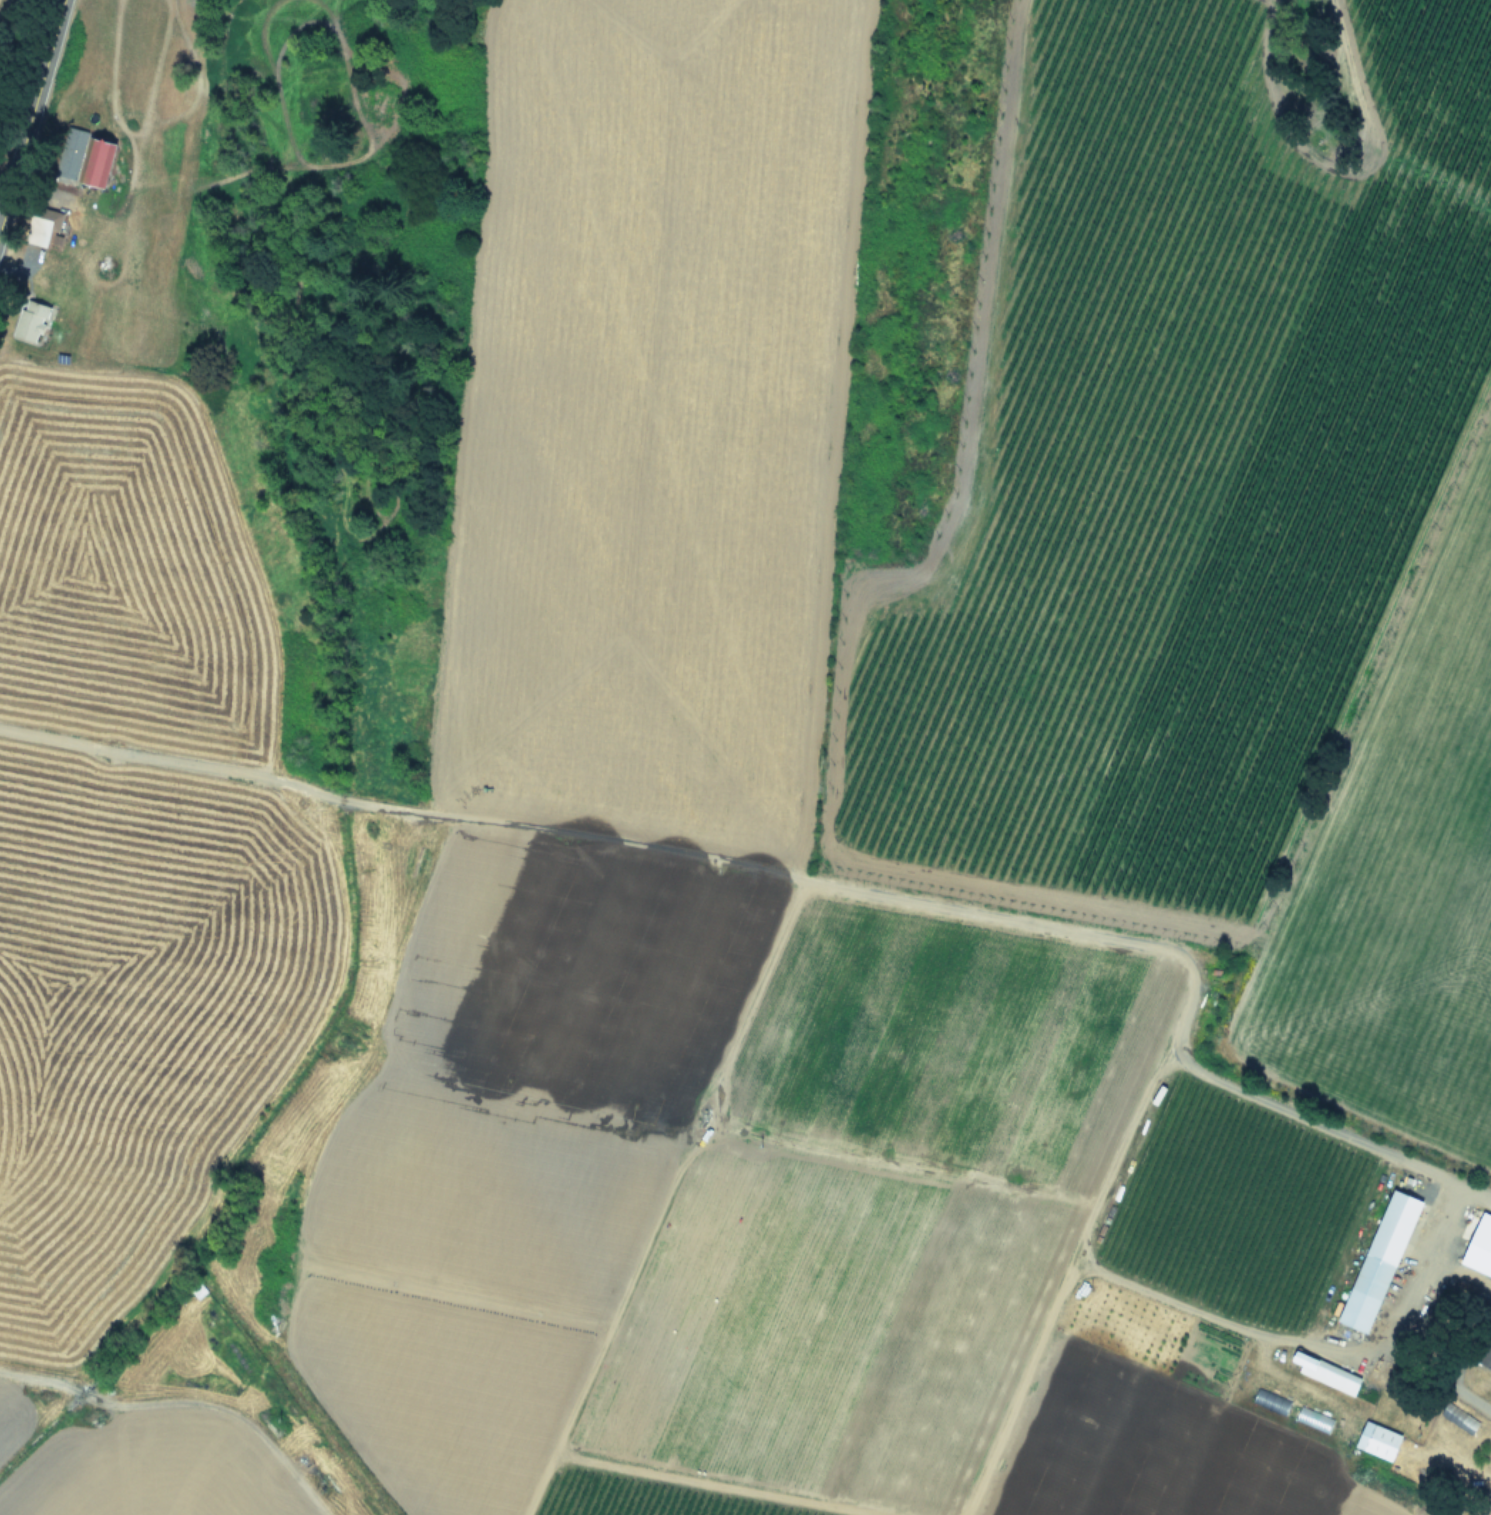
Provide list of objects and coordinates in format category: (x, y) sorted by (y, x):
crop: (0, 1)
road: (31, 112)
building: (103, 163)
building: (45, 227)
building: (32, 320)
crop: (789, 833)
road: (1450, 1180)
building: (1382, 1263)
building: (198, 1291)
building: (1487, 1359)
building: (1331, 1377)
road: (1448, 1384)
building: (1381, 1443)

